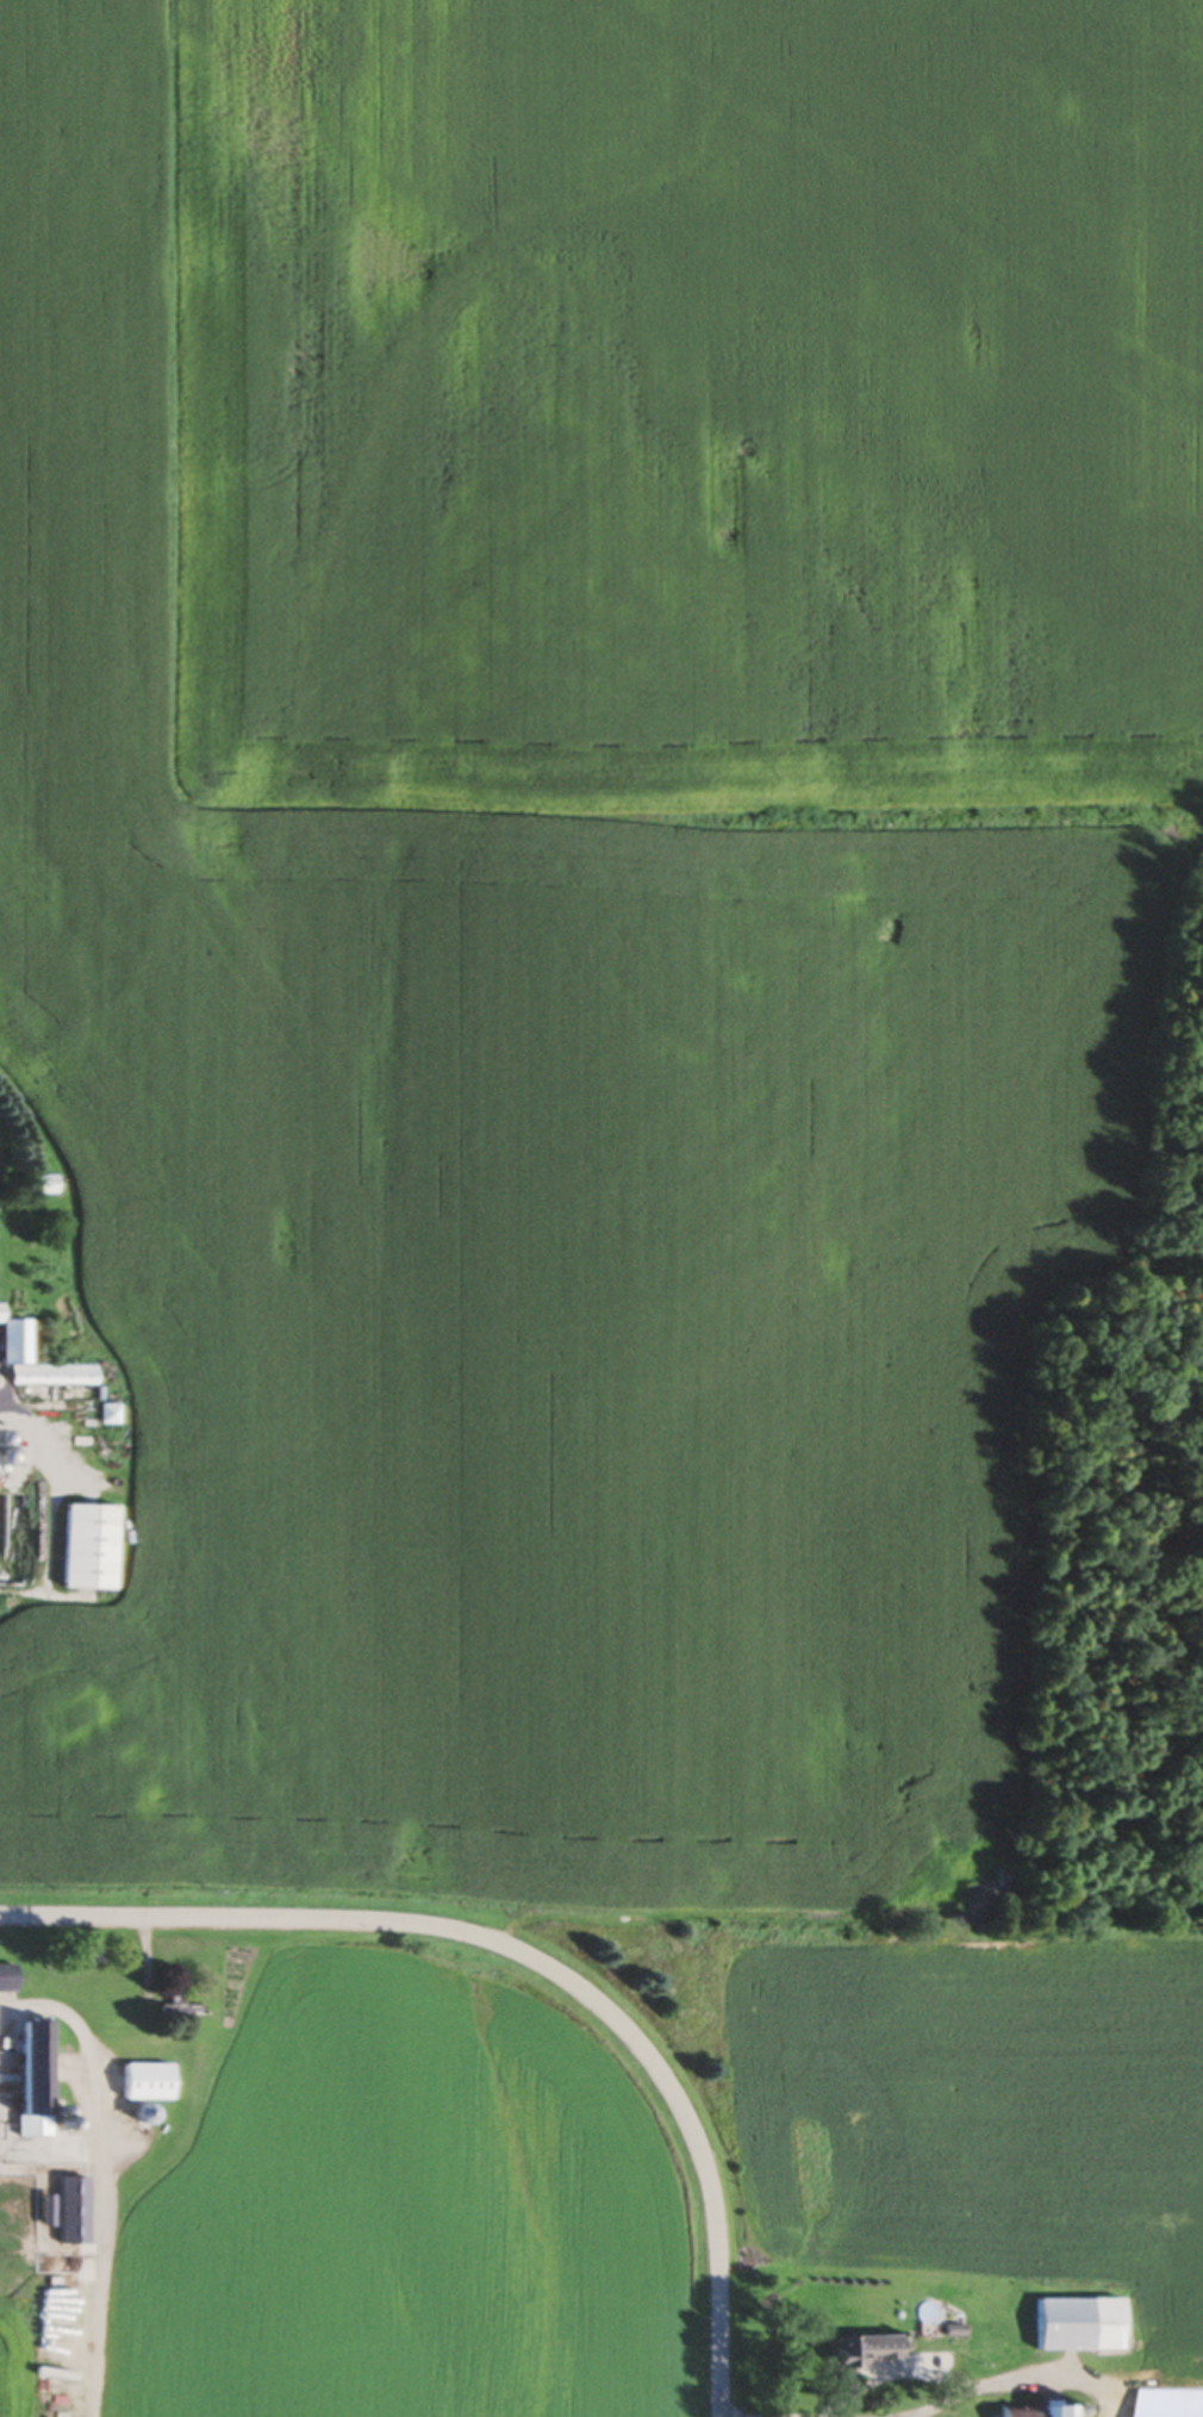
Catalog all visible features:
building: (42, 1185)
building: (14, 1345)
building: (1, 1520)
building: (89, 1550)
road: (530, 1955)
building: (8, 1980)
building: (182, 2010)
building: (37, 2080)
building: (149, 2085)
building: (73, 2195)
building: (1083, 2326)
building: (867, 2353)
building: (1039, 2412)

